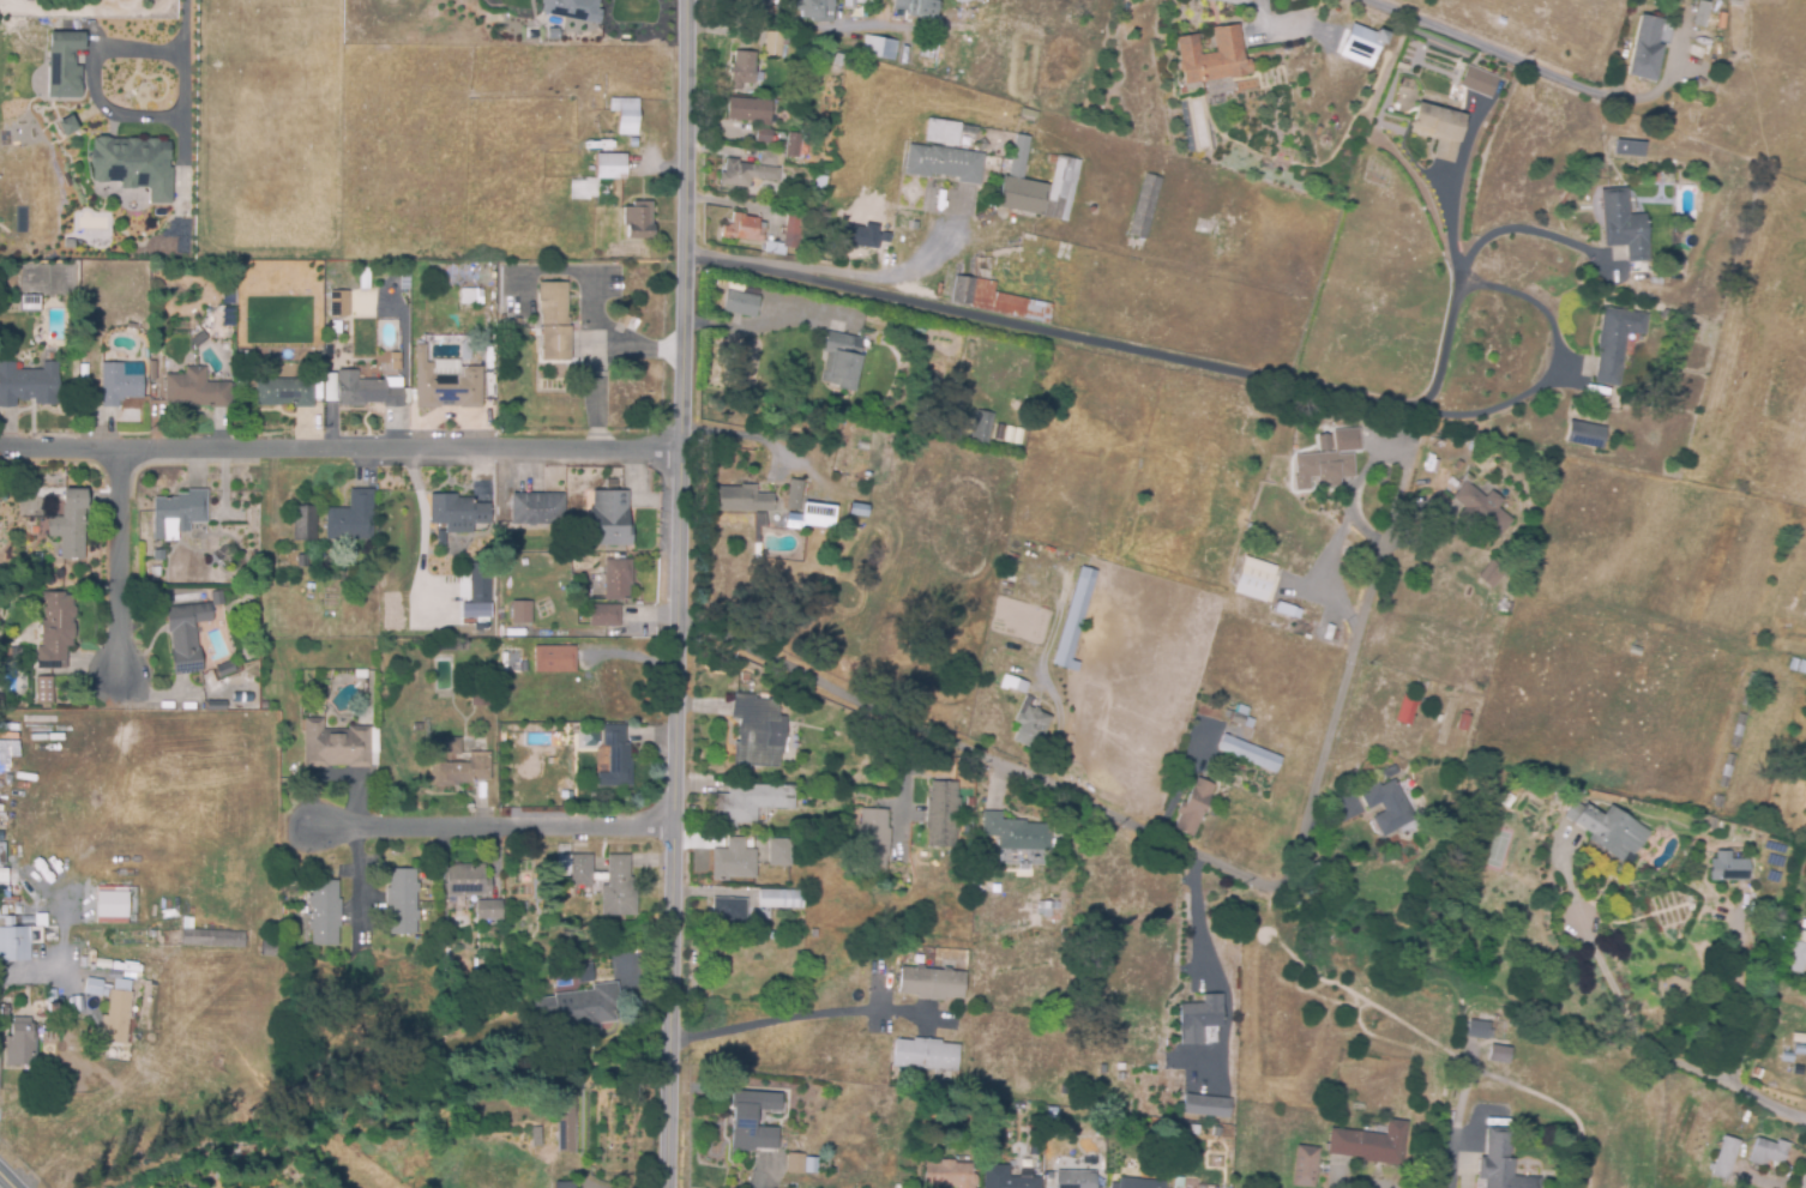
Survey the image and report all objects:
building: (959, 0)
building: (1667, 1)
building: (855, 4)
building: (944, 4)
building: (905, 6)
building: (811, 7)
road: (1254, 7)
building: (571, 8)
building: (1699, 16)
road: (189, 26)
building: (843, 43)
building: (777, 44)
building: (1360, 44)
building: (877, 47)
road: (1479, 47)
building: (1643, 50)
building: (1696, 53)
building: (1211, 58)
building: (68, 62)
building: (1402, 68)
building: (742, 70)
building: (1476, 83)
road: (106, 110)
building: (750, 110)
building: (1027, 114)
building: (626, 115)
building: (72, 123)
building: (1437, 129)
building: (941, 132)
building: (764, 135)
building: (633, 141)
building: (794, 145)
building: (1627, 150)
building: (771, 158)
building: (138, 163)
building: (944, 163)
building: (610, 167)
building: (739, 174)
building: (821, 182)
building: (1018, 185)
building: (586, 189)
building: (1061, 191)
building: (1144, 207)
building: (638, 221)
building: (916, 225)
road: (1525, 227)
building: (1621, 227)
building: (742, 229)
building: (788, 233)
building: (872, 233)
building: (1226, 236)
building: (399, 279)
building: (365, 282)
building: (946, 287)
building: (963, 290)
road: (1455, 291)
building: (1631, 291)
building: (472, 297)
building: (30, 303)
building: (339, 303)
building: (740, 303)
building: (1009, 303)
building: (493, 308)
building: (1662, 314)
building: (624, 319)
building: (552, 321)
building: (54, 322)
building: (517, 322)
building: (336, 327)
building: (506, 330)
road: (1051, 330)
building: (1614, 343)
building: (201, 344)
building: (347, 350)
road: (596, 357)
building: (399, 360)
building: (841, 360)
road: (1554, 366)
building: (446, 375)
building: (488, 380)
building: (120, 382)
building: (28, 385)
building: (330, 387)
building: (195, 390)
building: (375, 392)
building: (284, 393)
building: (981, 428)
road: (739, 433)
building: (1584, 435)
road: (339, 450)
building: (1331, 459)
building: (34, 483)
building: (610, 486)
building: (795, 496)
building: (744, 500)
building: (867, 506)
building: (1479, 506)
building: (537, 509)
road: (1355, 509)
building: (456, 511)
building: (179, 514)
building: (351, 518)
building: (812, 518)
building: (609, 519)
building: (305, 524)
building: (71, 525)
building: (35, 530)
building: (757, 550)
building: (158, 555)
building: (38, 560)
building: (302, 561)
road: (118, 562)
building: (1009, 562)
building: (155, 572)
building: (1489, 575)
building: (480, 578)
building: (616, 579)
building: (1253, 579)
building: (508, 586)
road: (678, 593)
building: (1501, 602)
building: (1282, 610)
building: (519, 611)
building: (603, 616)
building: (1074, 620)
building: (55, 629)
building: (186, 637)
building: (449, 646)
building: (1633, 651)
building: (12, 652)
building: (554, 659)
building: (524, 667)
building: (1796, 667)
building: (227, 670)
building: (360, 674)
building: (1015, 683)
building: (43, 689)
building: (1748, 692)
building: (481, 695)
road: (1342, 700)
building: (264, 705)
building: (227, 706)
building: (1408, 710)
building: (1236, 716)
building: (1461, 722)
building: (1030, 728)
building: (758, 731)
building: (1736, 731)
building: (335, 746)
building: (839, 750)
building: (1247, 755)
building: (615, 758)
building: (456, 764)
building: (1726, 772)
road: (1033, 776)
building: (1558, 790)
building: (1581, 791)
building: (1717, 802)
building: (750, 803)
building: (1192, 808)
building: (1386, 808)
building: (941, 813)
building: (1711, 824)
road: (493, 826)
building: (1602, 827)
building: (1010, 832)
building: (873, 842)
building: (781, 852)
building: (734, 861)
building: (576, 869)
building: (1726, 869)
building: (2, 879)
building: (466, 880)
building: (618, 888)
building: (781, 899)
building: (401, 901)
building: (110, 905)
building: (295, 907)
building: (1047, 907)
building: (489, 910)
building: (729, 911)
building: (324, 912)
road: (1202, 913)
road: (311, 921)
building: (801, 924)
building: (427, 933)
building: (779, 934)
building: (496, 935)
building: (213, 939)
building: (17, 940)
building: (269, 948)
building: (1794, 958)
road: (25, 972)
building: (583, 972)
building: (932, 983)
building: (97, 988)
building: (59, 1006)
road: (1744, 1006)
building: (582, 1008)
building: (120, 1011)
road: (796, 1018)
building: (1198, 1020)
building: (1479, 1030)
road: (1645, 1032)
building: (23, 1042)
building: (1784, 1048)
building: (1799, 1049)
building: (925, 1055)
building: (1498, 1055)
building: (1787, 1059)
building: (1101, 1071)
building: (1796, 1072)
building: (1062, 1091)
building: (1276, 1096)
building: (1205, 1106)
building: (1336, 1109)
building: (744, 1117)
building: (566, 1120)
building: (1764, 1122)
building: (1180, 1127)
building: (1214, 1133)
building: (1229, 1134)
building: (536, 1136)
building: (722, 1141)
building: (1369, 1145)
building: (797, 1146)
building: (1766, 1153)
building: (1723, 1159)
building: (795, 1163)
building: (1499, 1163)
building: (811, 1165)
building: (1305, 1168)
building: (950, 1175)
building: (1048, 1175)
building: (1006, 1178)
road: (1802, 1178)
road: (8, 1180)
building: (1073, 1180)
building: (1138, 1183)
road: (1374, 1184)
building: (565, 1186)

